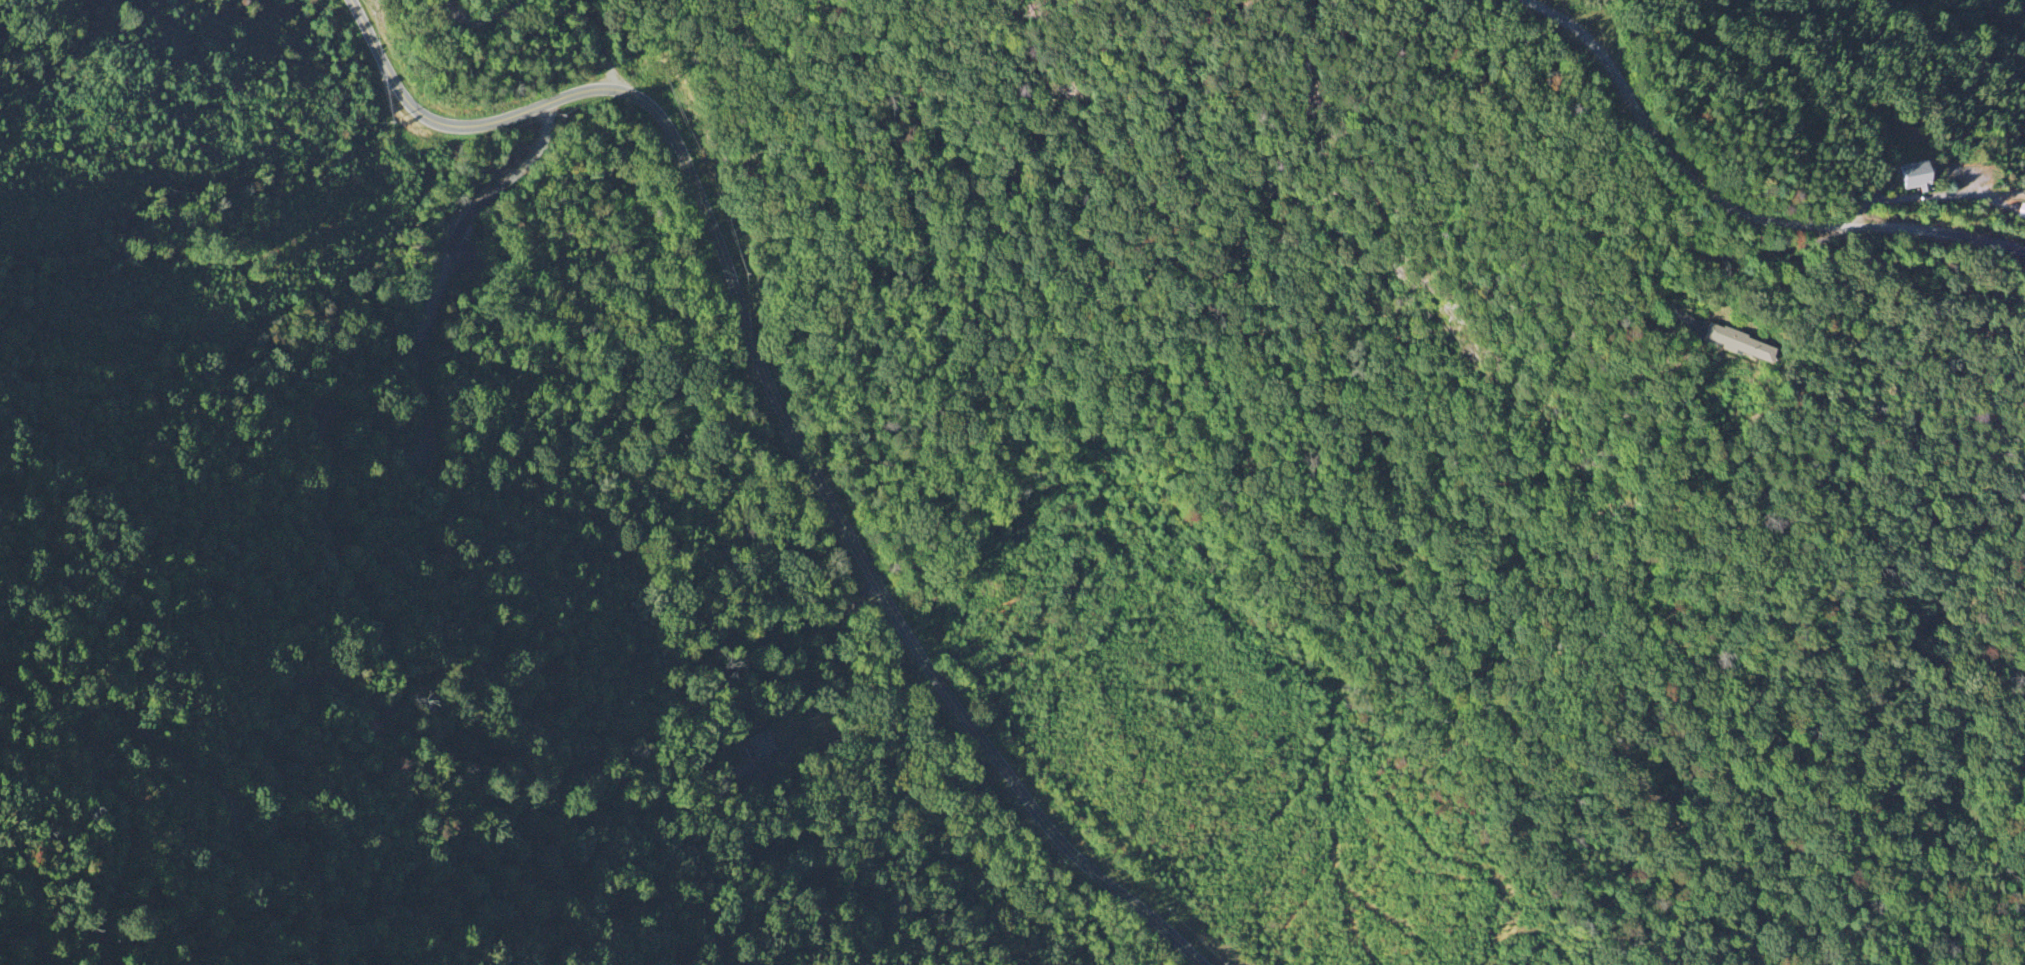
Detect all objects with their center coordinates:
road: (479, 15)
road: (601, 46)
building: (1918, 177)
road: (1732, 212)
road: (1703, 254)
building: (1740, 345)
road: (779, 406)
road: (394, 692)
building: (761, 746)
building: (742, 772)
road: (41, 916)

